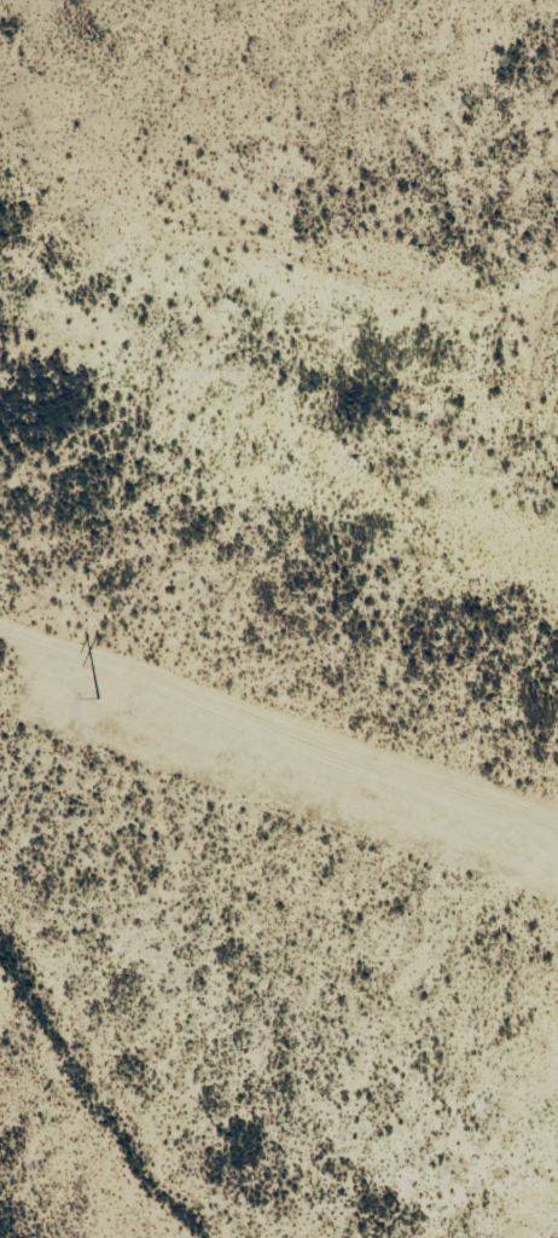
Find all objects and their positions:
power tower: (95, 700)

